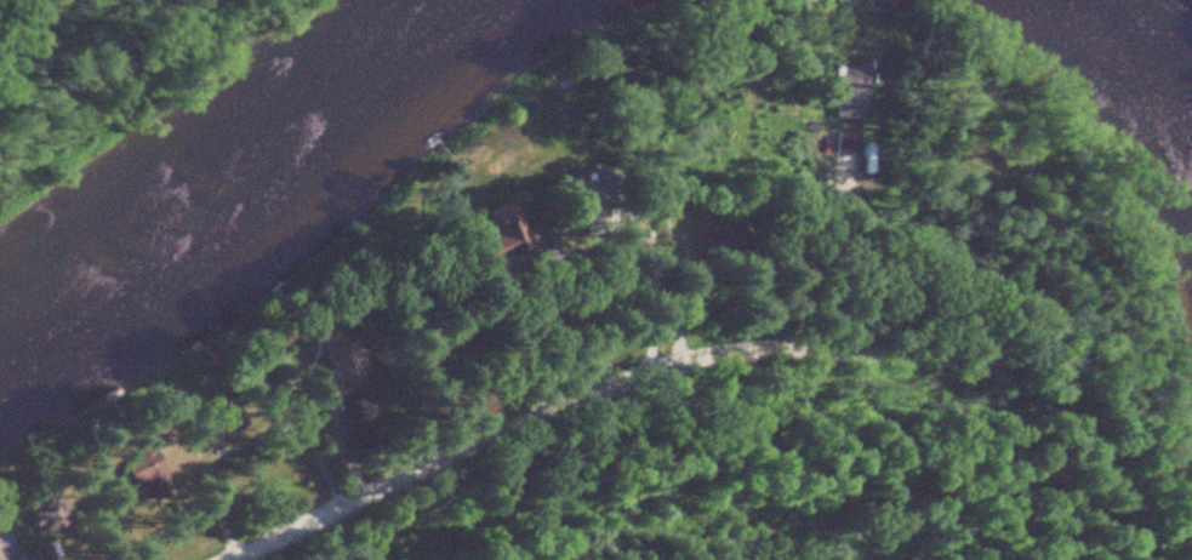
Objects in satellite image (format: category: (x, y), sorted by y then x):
river: (1147, 53)
building: (839, 92)
river: (247, 176)
building: (577, 194)
building: (326, 368)
road: (588, 390)
building: (1, 553)
building: (32, 553)

